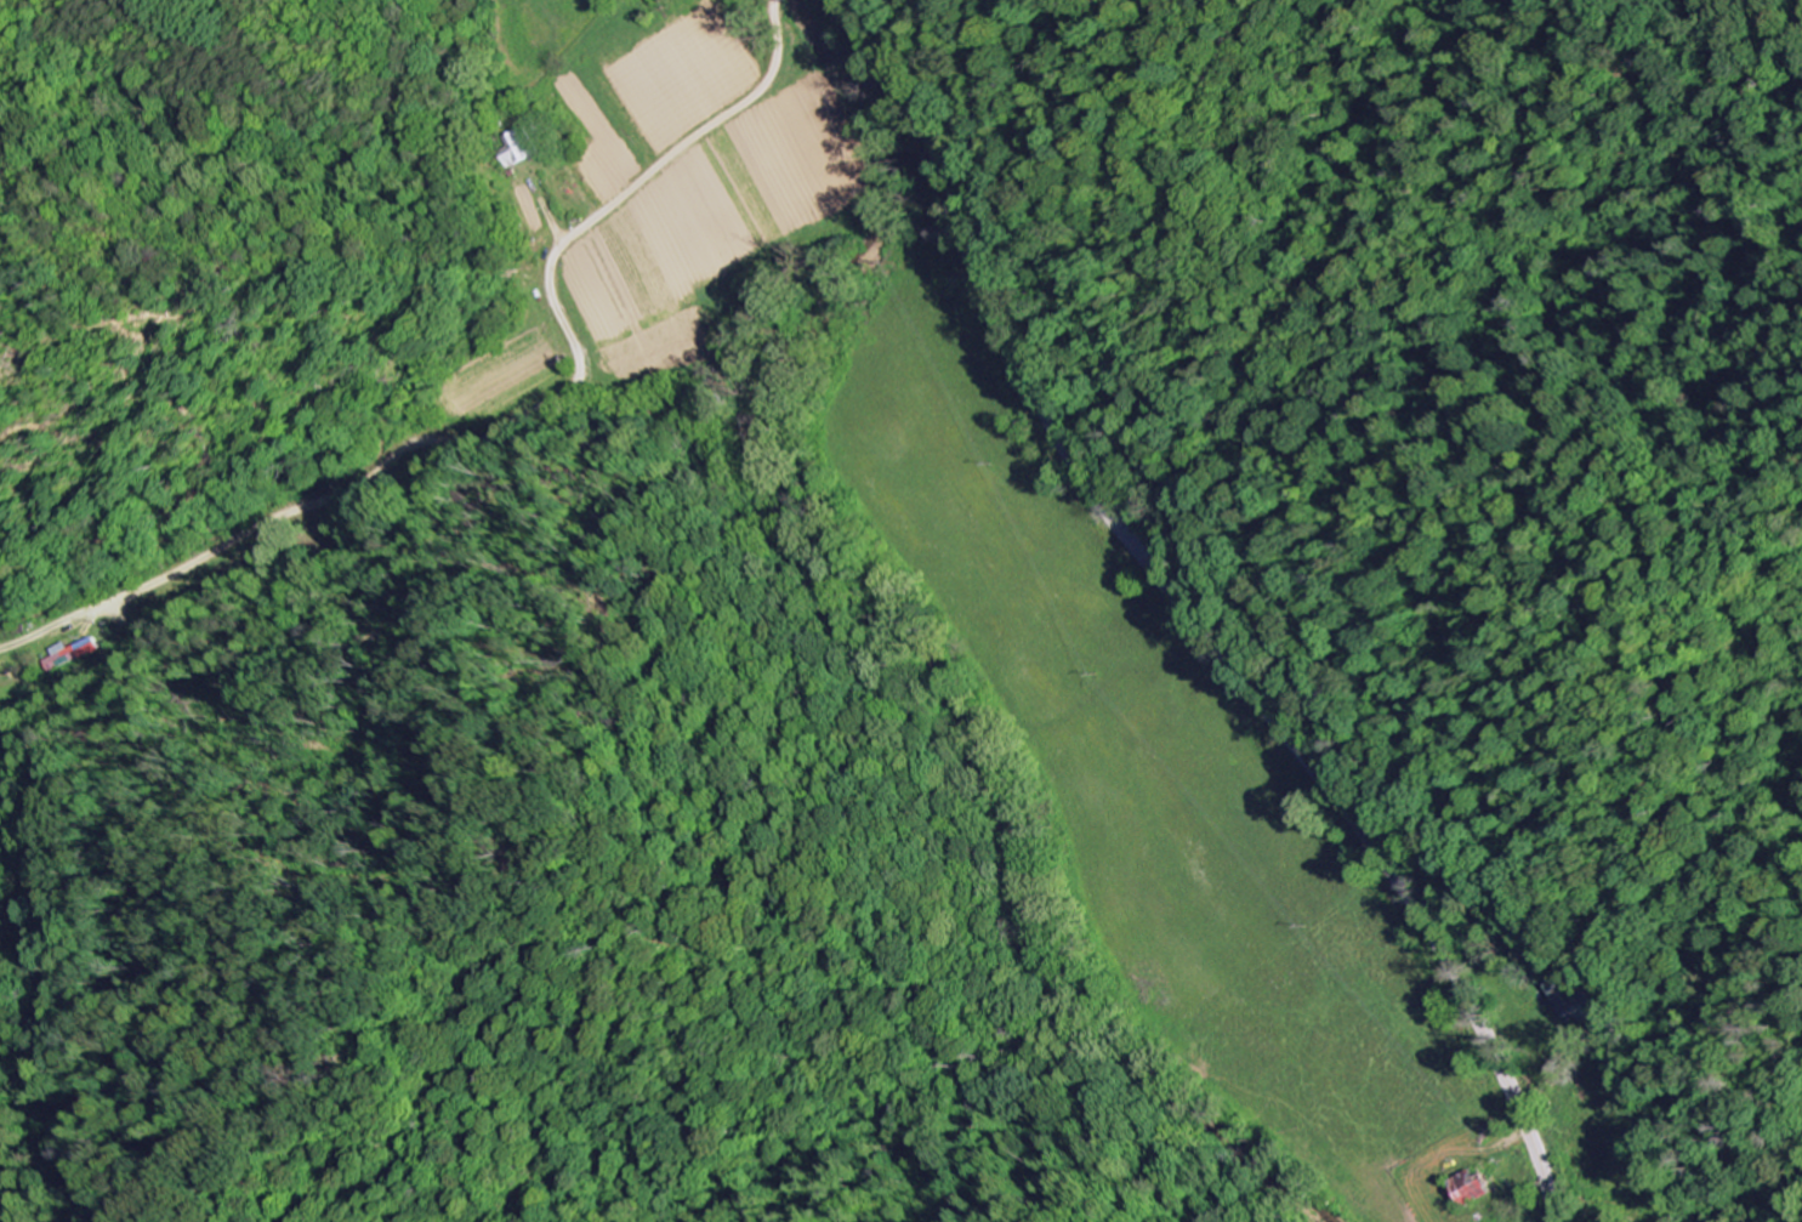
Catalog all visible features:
road: (522, 421)
road: (1201, 616)
building: (1478, 1189)

